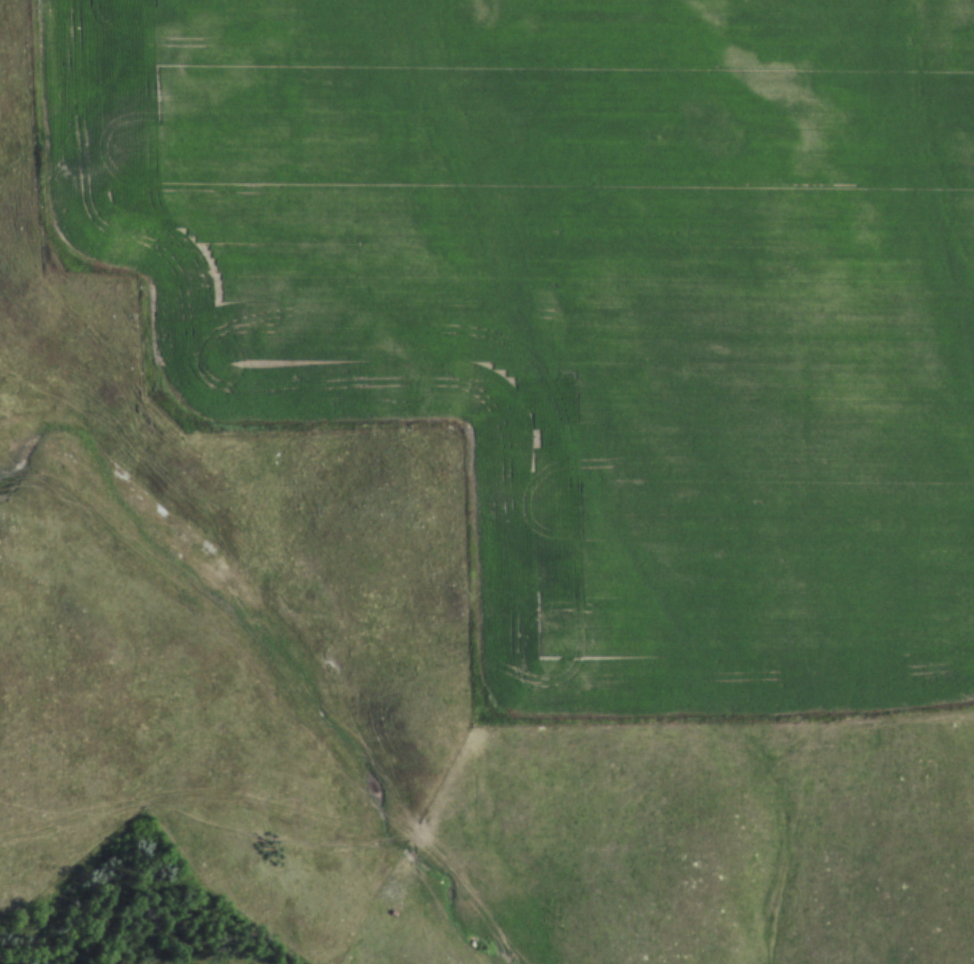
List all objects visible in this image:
building: (929, 556)

